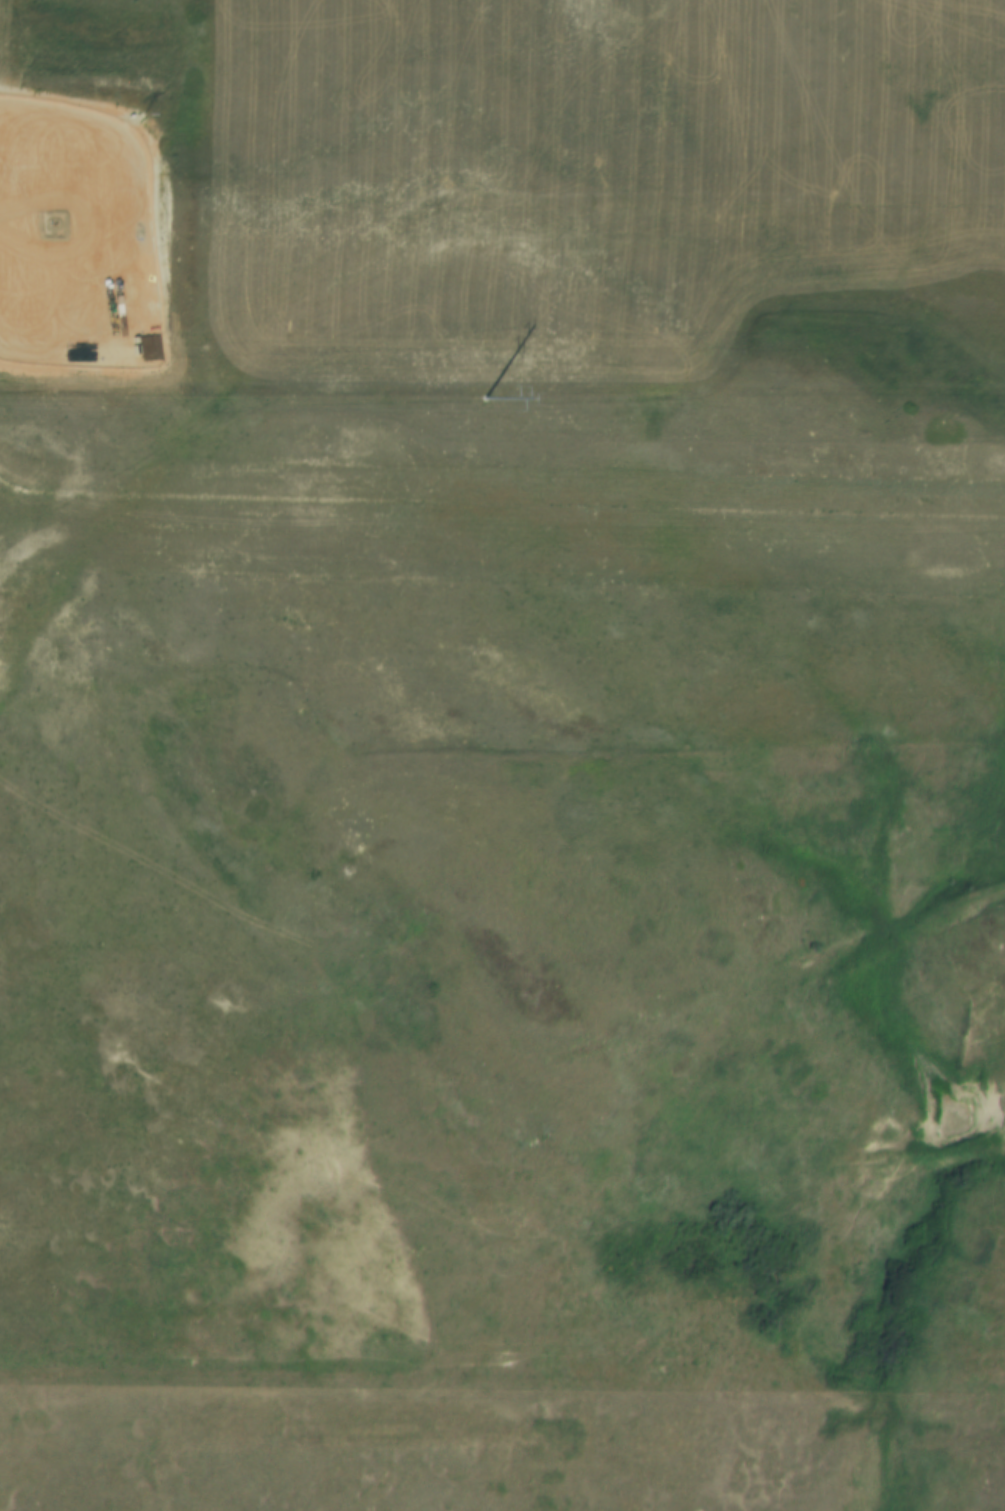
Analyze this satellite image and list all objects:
power tower: (484, 401)

